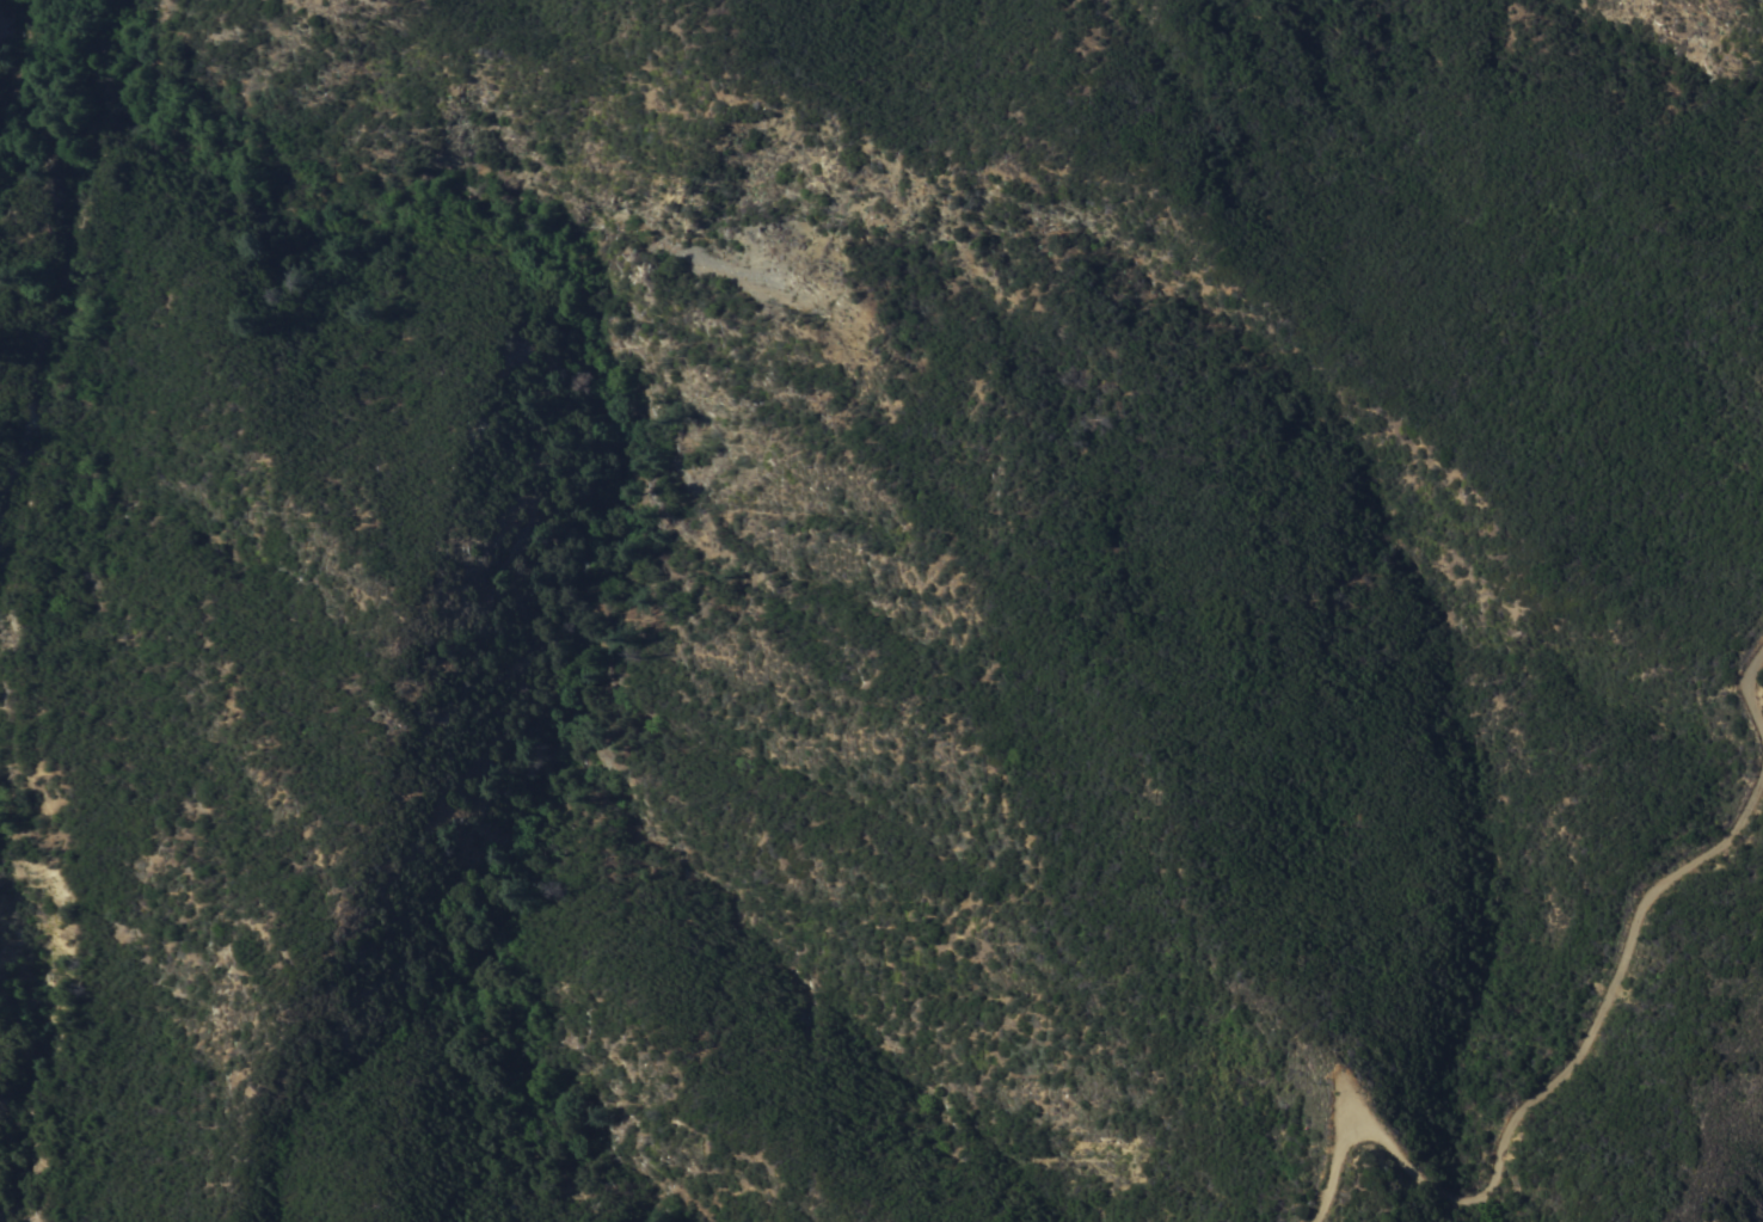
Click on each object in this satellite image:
road: (1750, 694)
road: (1556, 1077)

